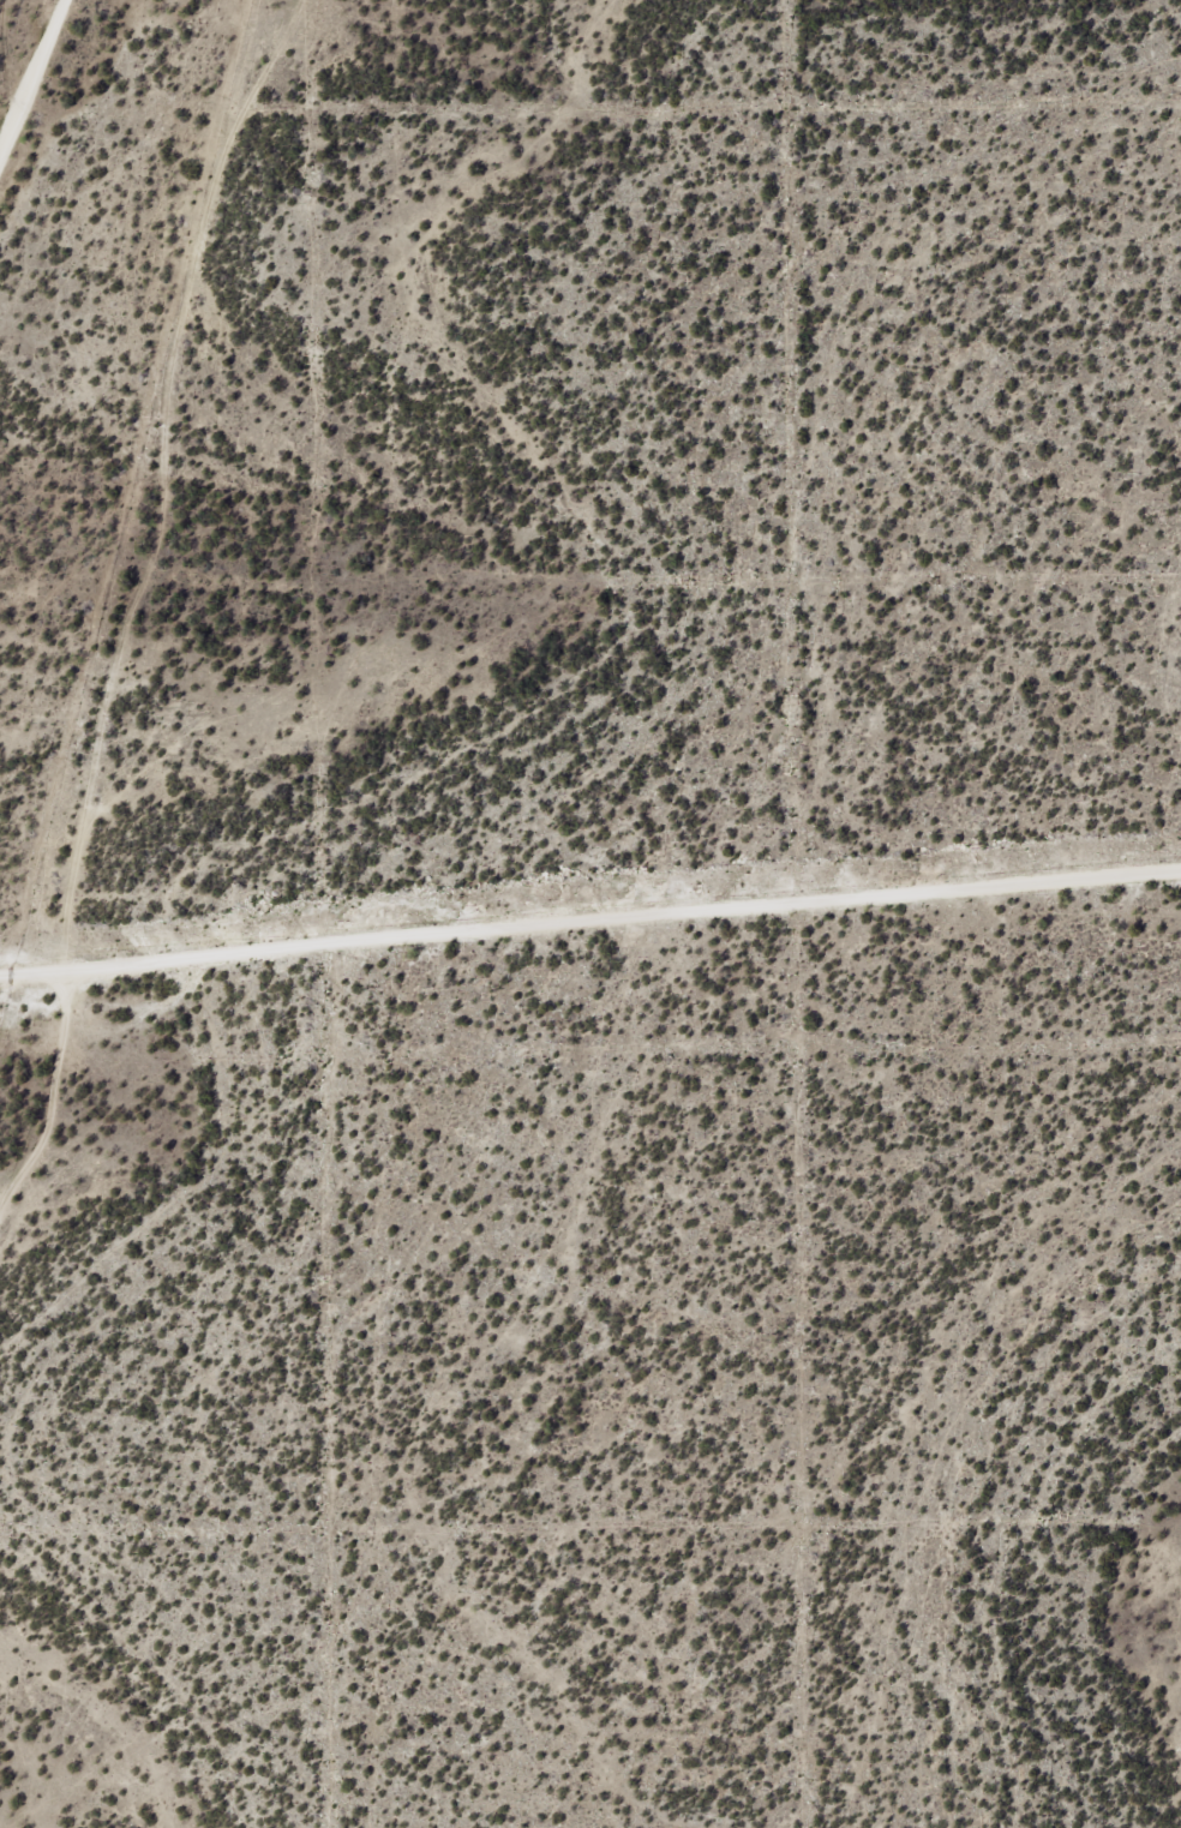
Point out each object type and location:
road: (590, 942)
road: (37, 1110)

